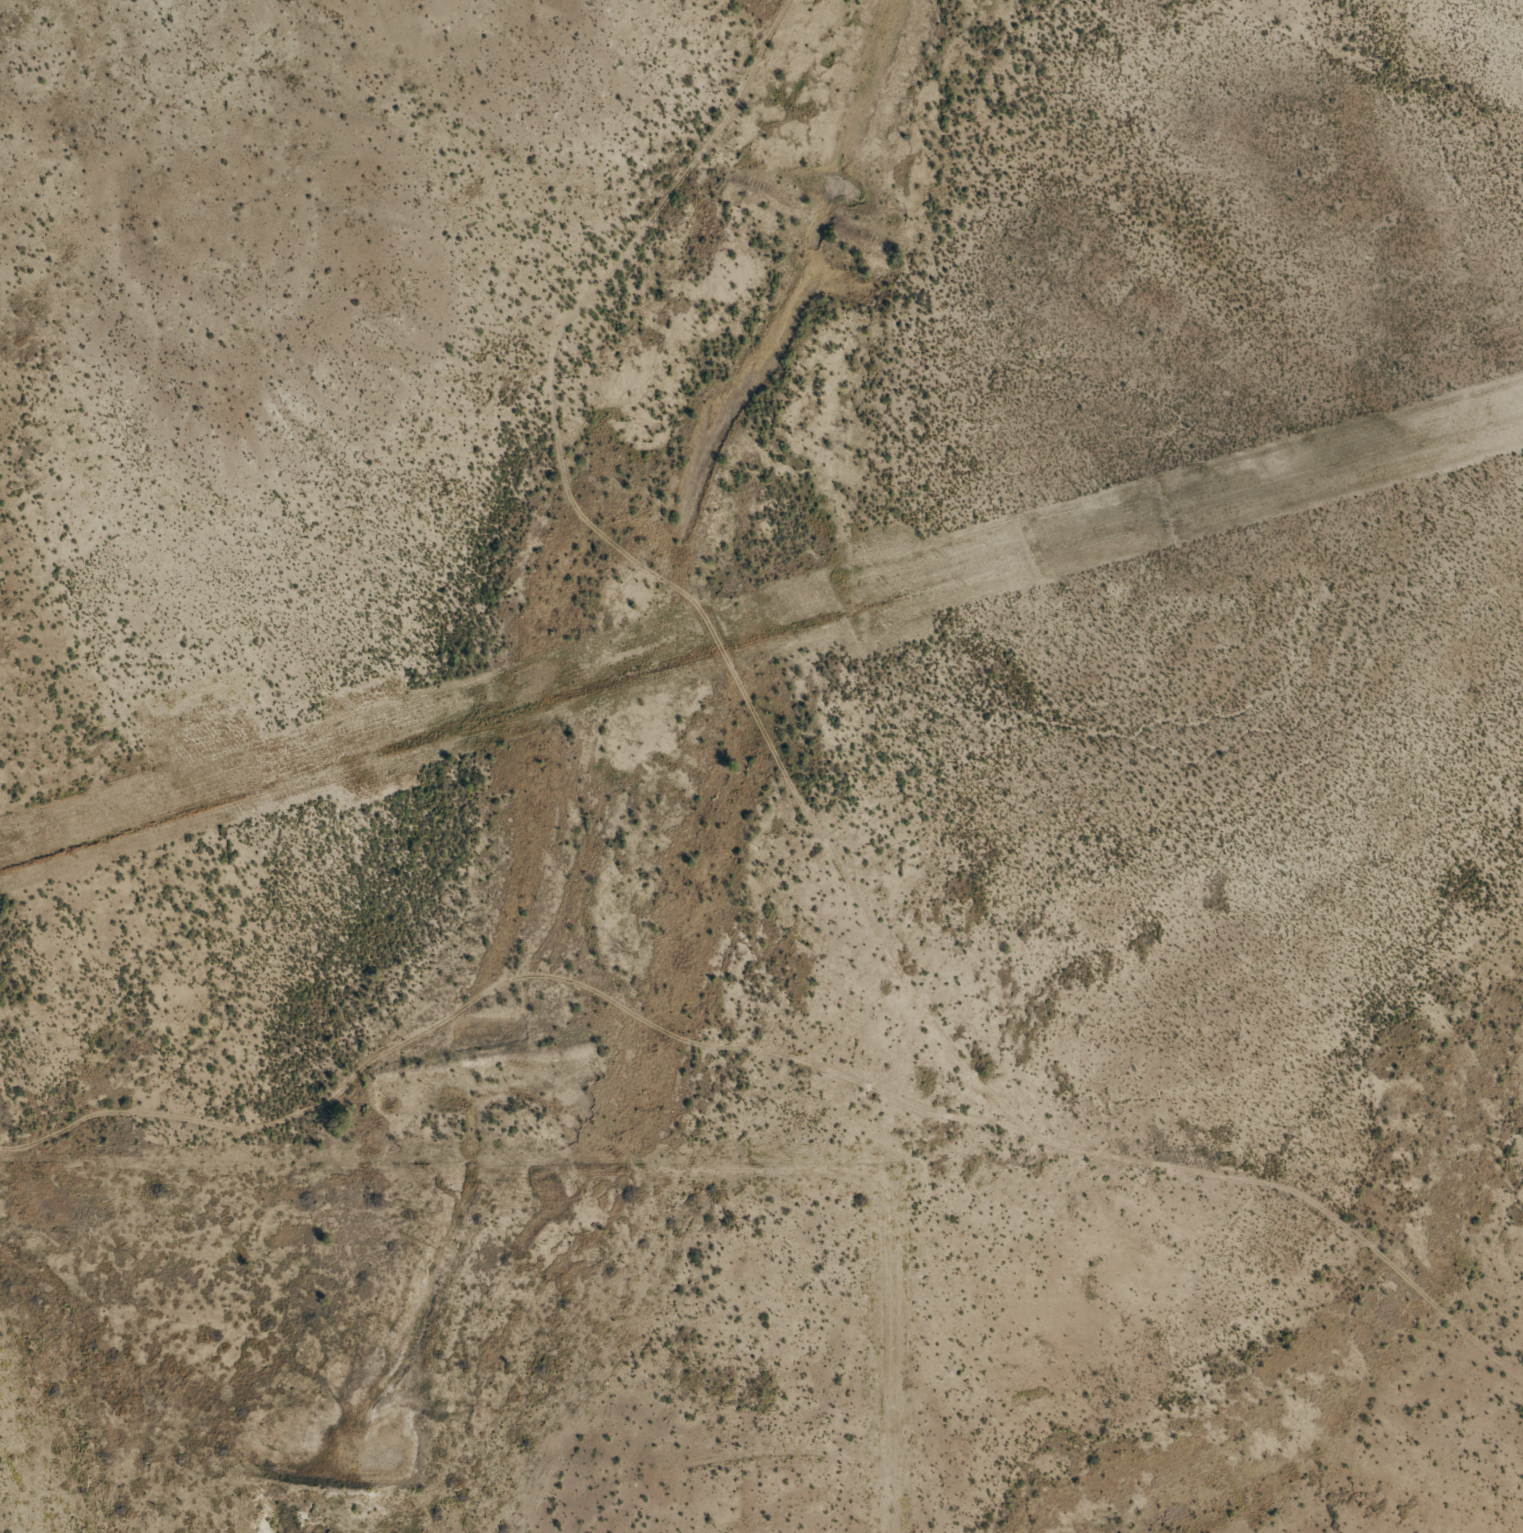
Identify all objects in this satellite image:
road: (813, 794)

